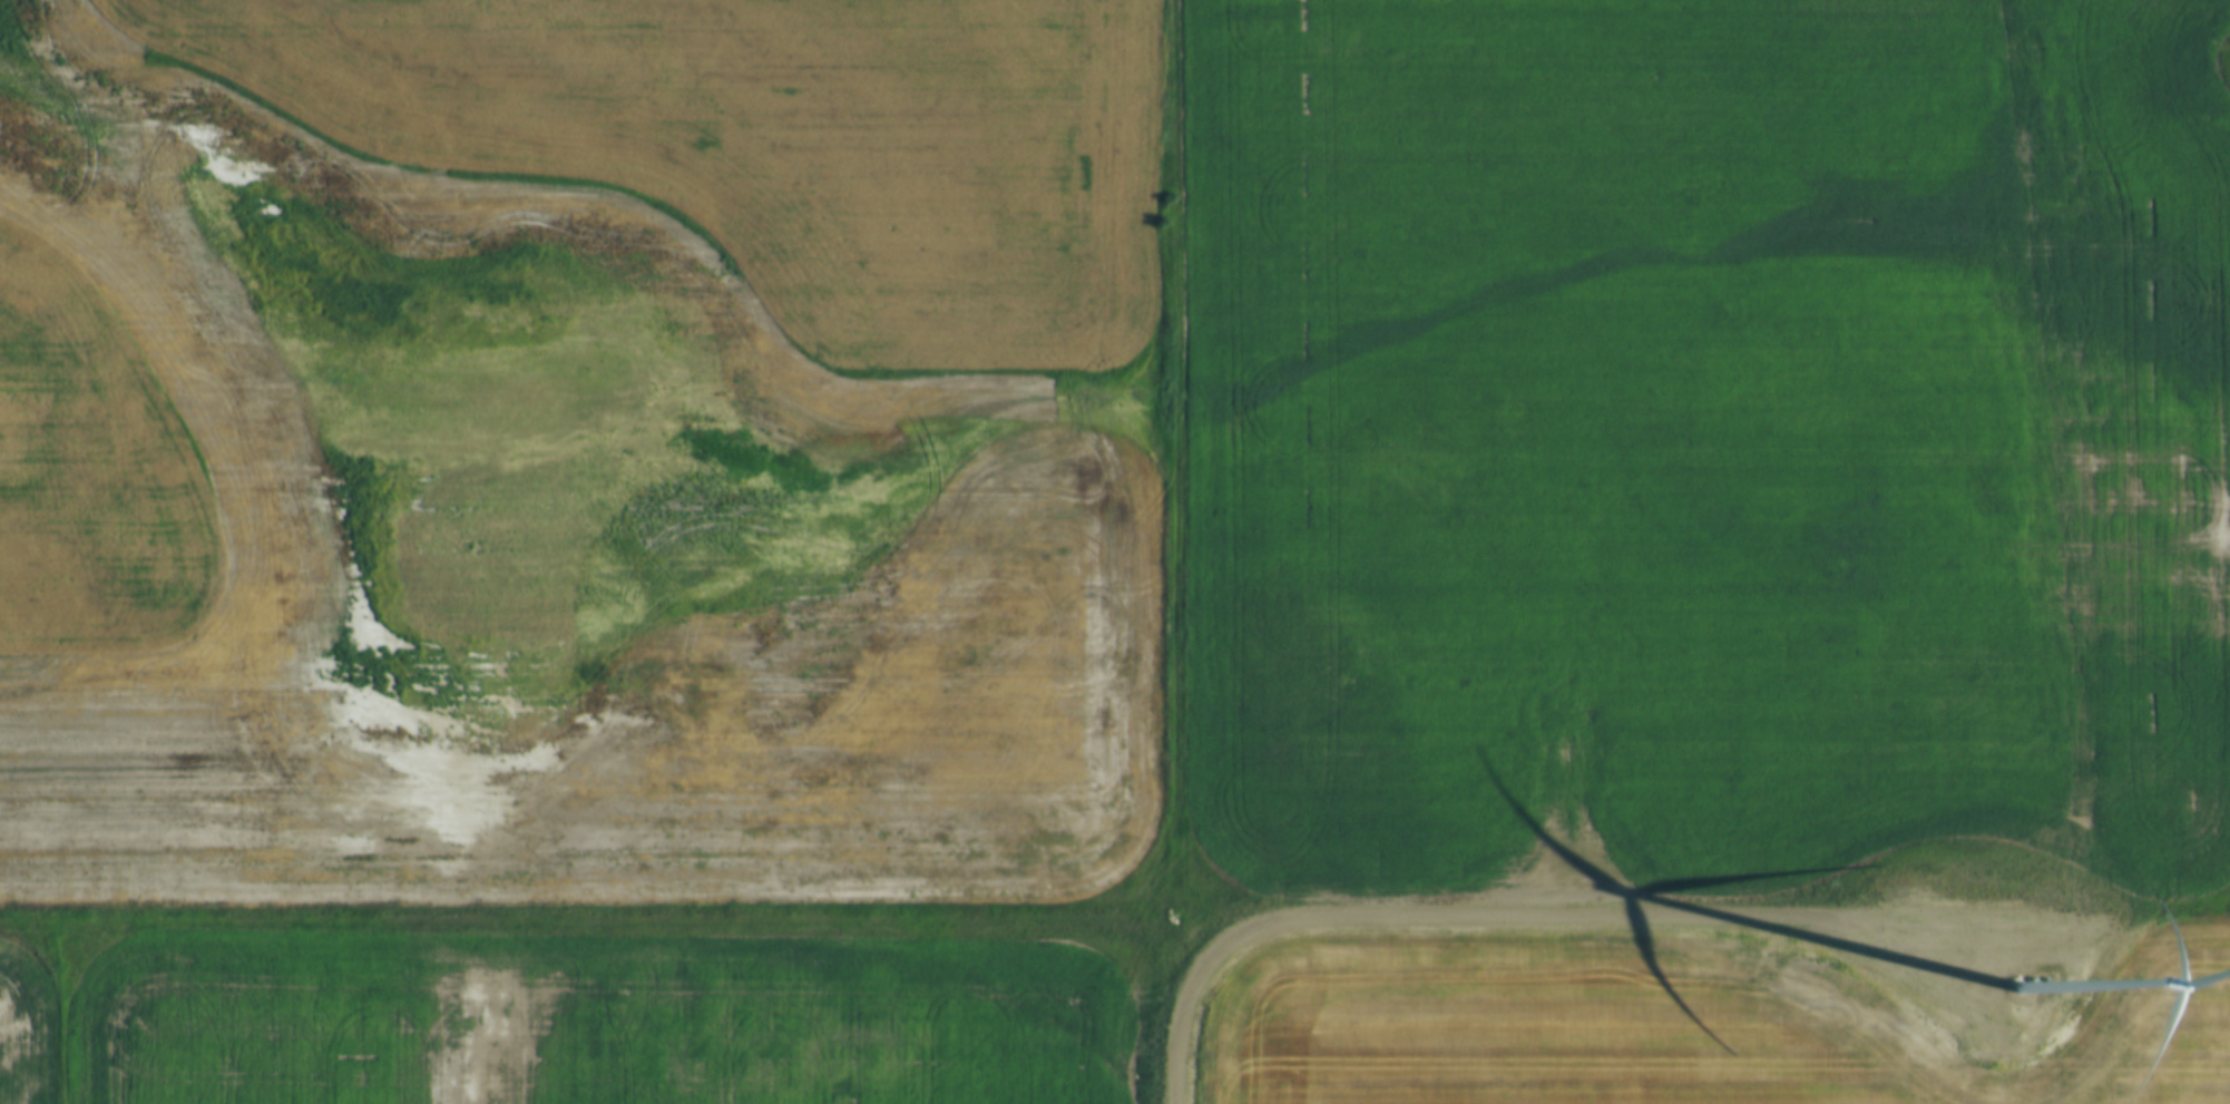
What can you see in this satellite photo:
wind turbine: (2006, 987)

